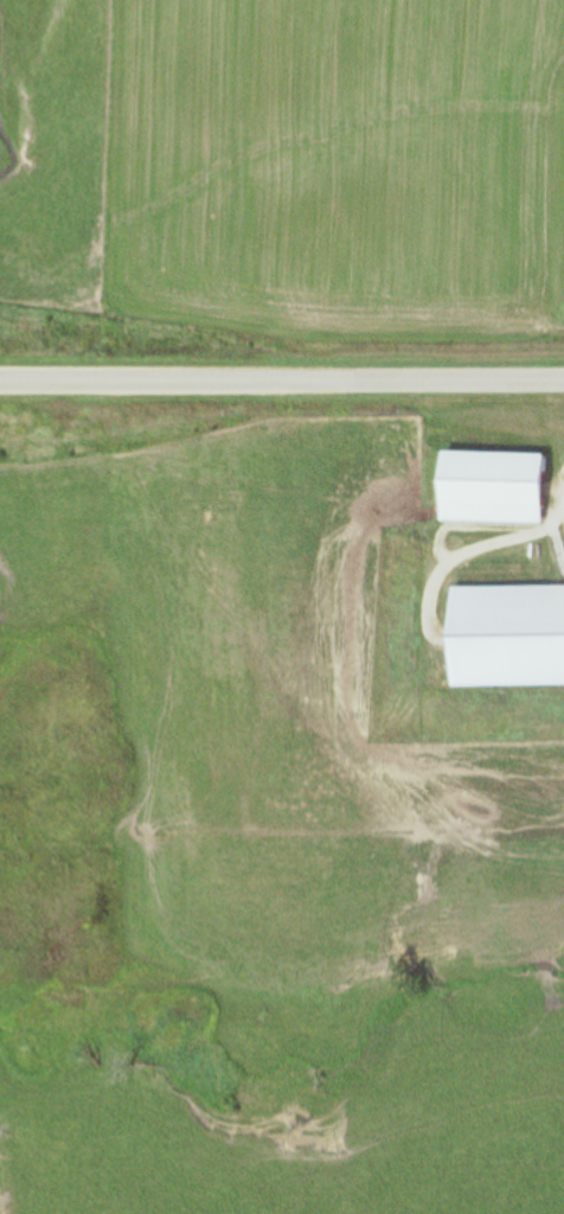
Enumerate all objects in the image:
road: (281, 378)
building: (486, 487)
building: (505, 634)

